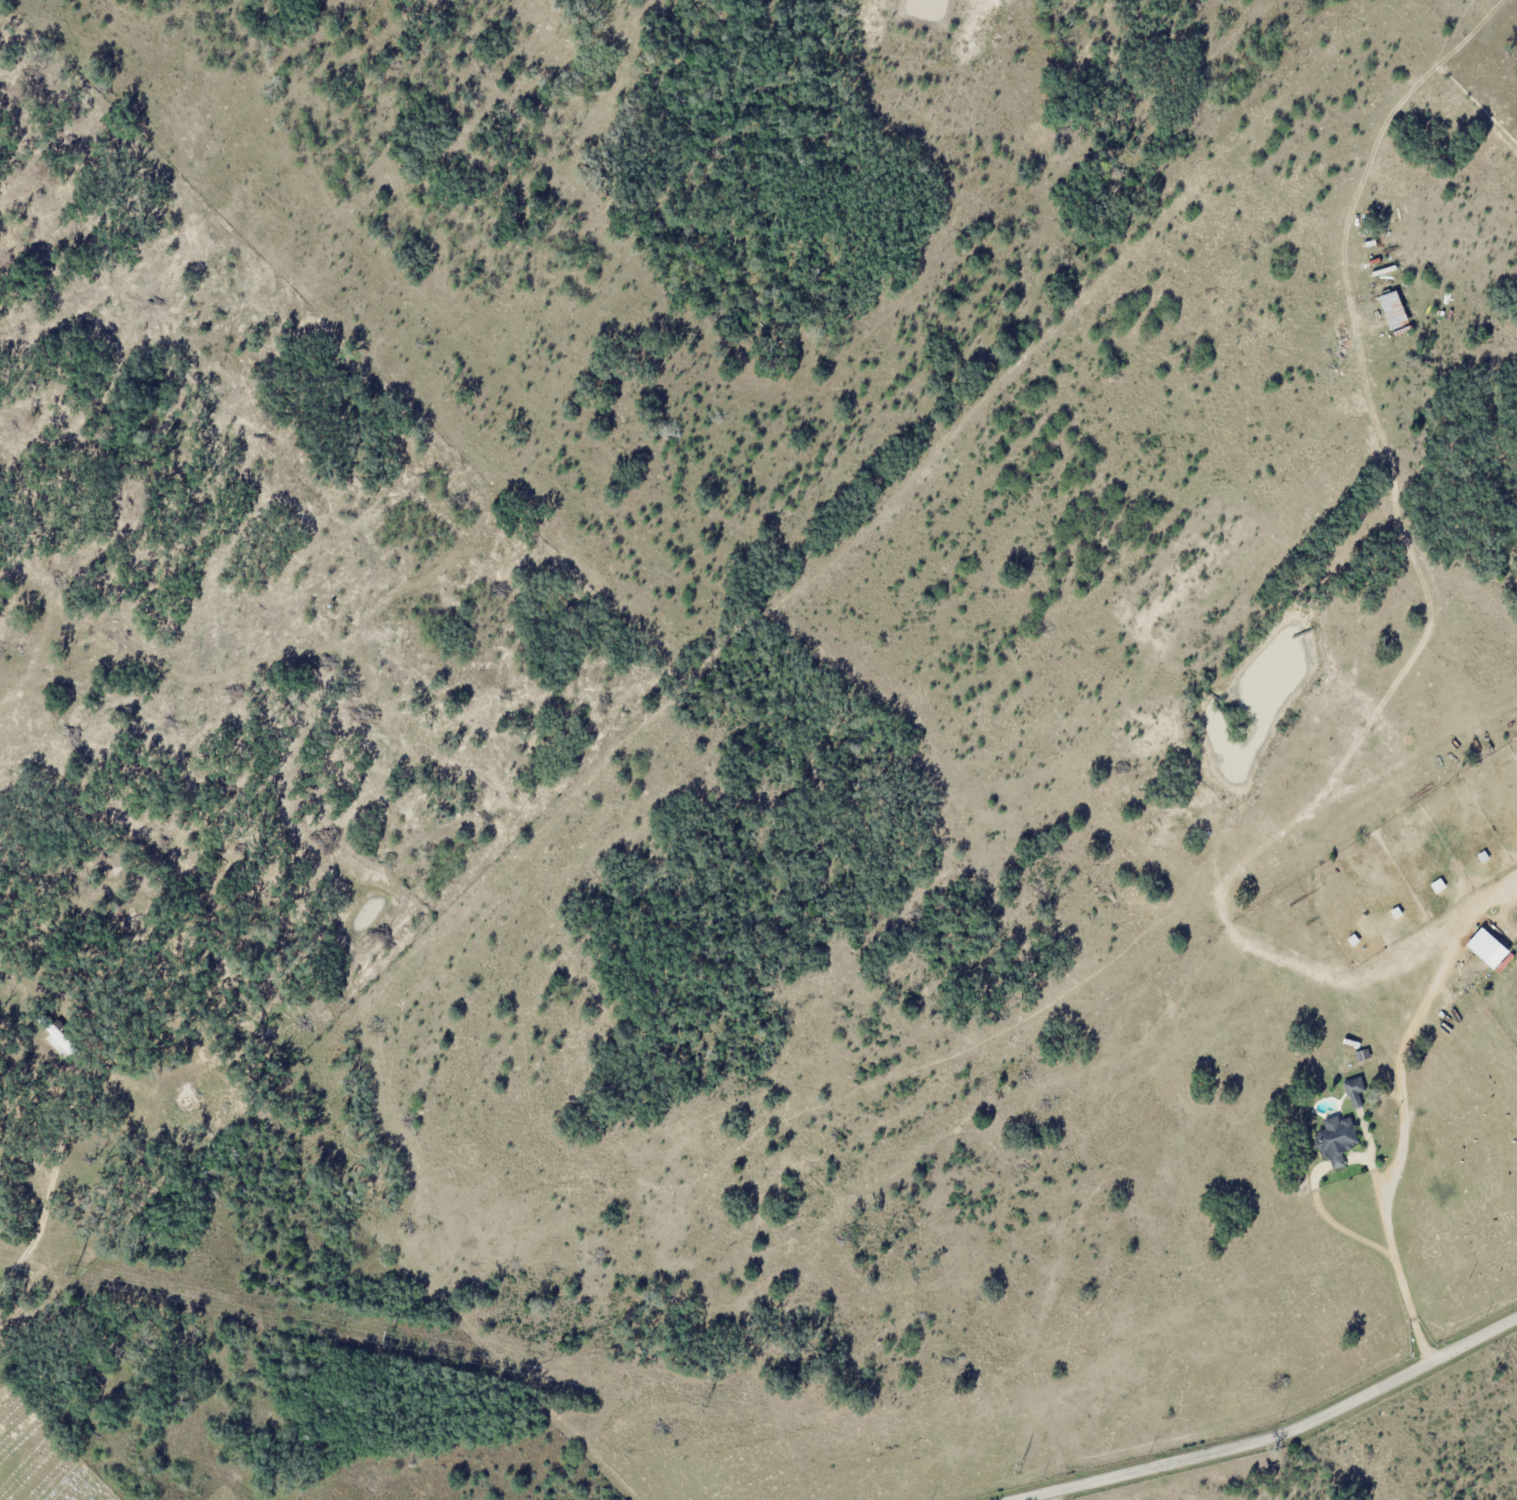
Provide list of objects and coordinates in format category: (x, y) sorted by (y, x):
building: (1393, 310)
building: (59, 1040)
road: (1401, 1109)
building: (1337, 1139)
road: (1371, 1153)
power tower: (75, 1268)
power tower: (385, 1331)
power tower: (704, 1399)
road: (1269, 1432)
park: (41, 1458)
power tower: (1016, 1465)

